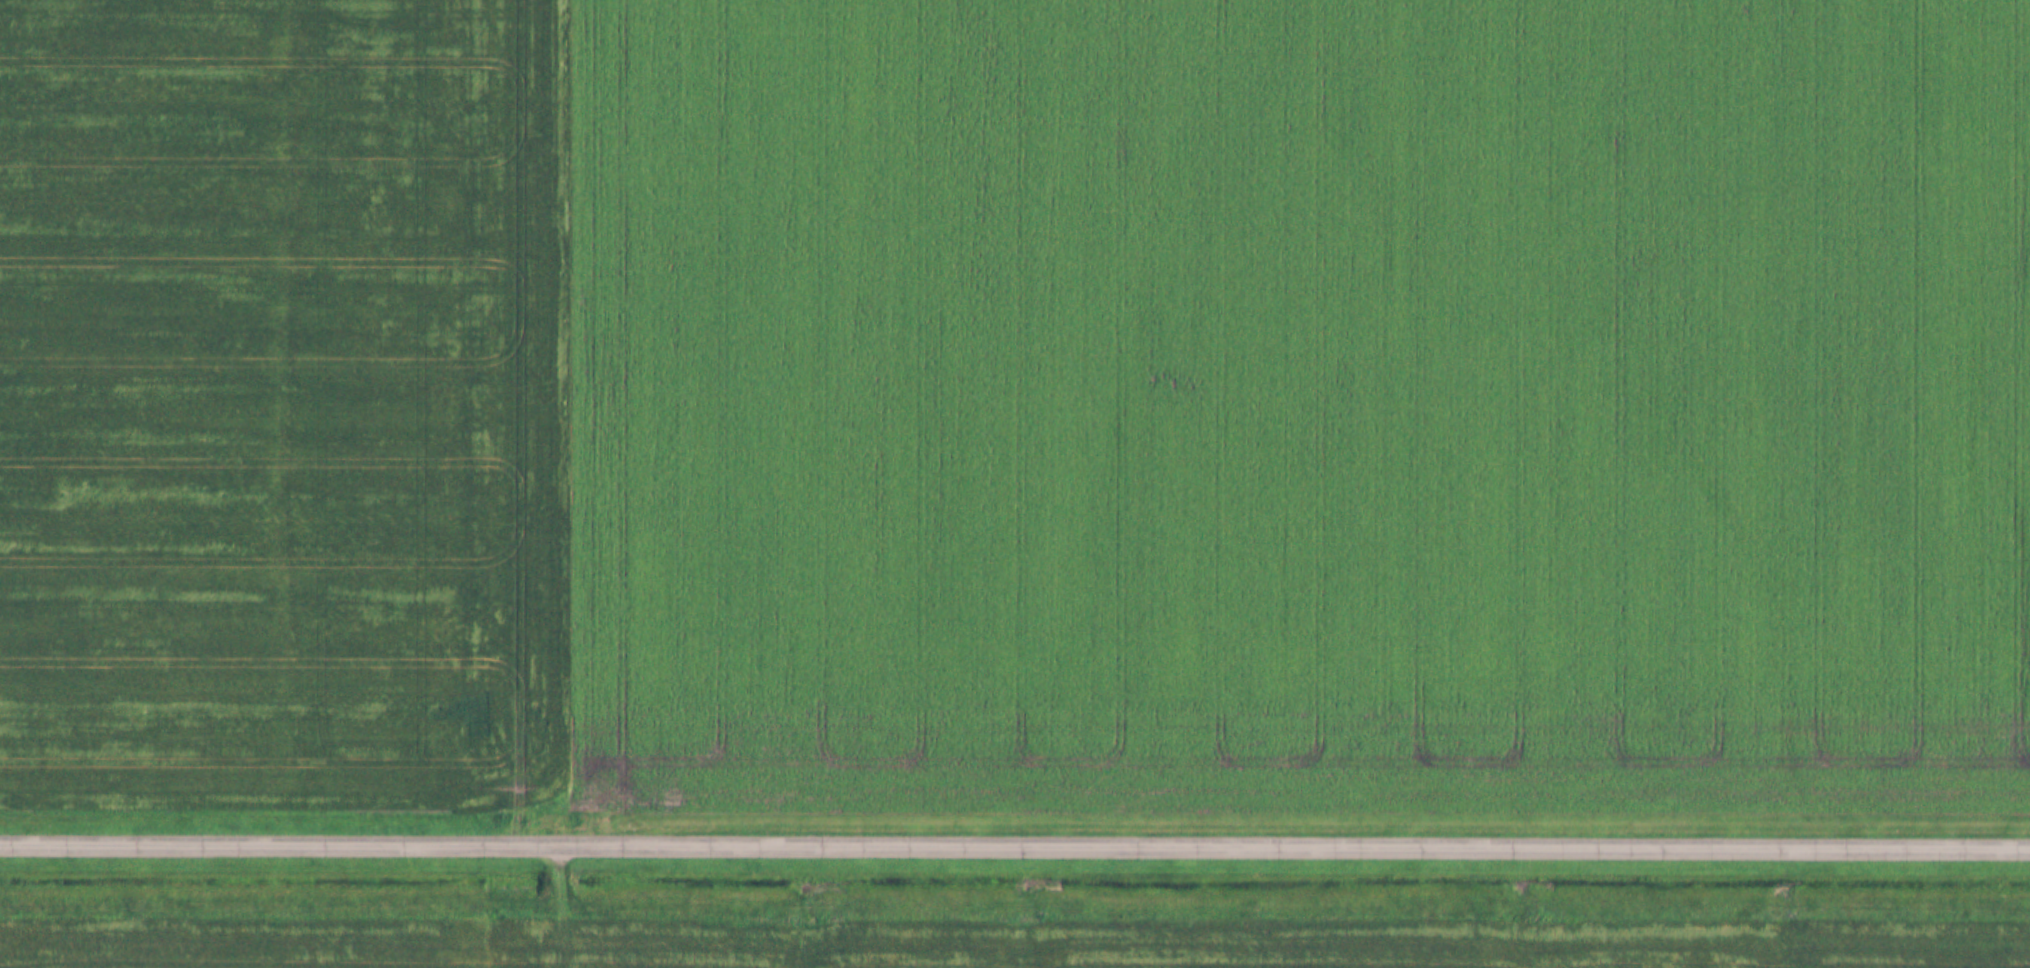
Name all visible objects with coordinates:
road: (1014, 847)

